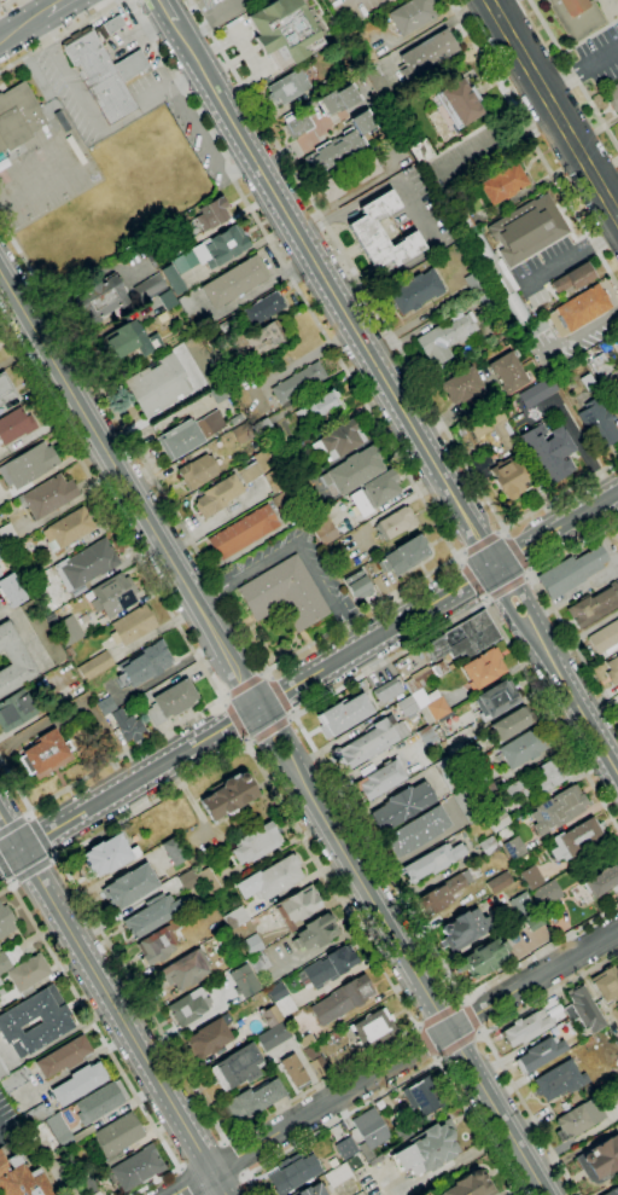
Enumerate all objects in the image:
road: (8, 5)
road: (56, 6)
road: (167, 10)
building: (410, 14)
building: (576, 17)
building: (112, 24)
road: (22, 25)
road: (2, 31)
building: (284, 31)
road: (57, 35)
road: (185, 40)
road: (216, 41)
flagpole: (139, 50)
building: (360, 51)
road: (247, 54)
building: (426, 54)
parking lot: (601, 56)
road: (180, 68)
road: (581, 71)
building: (104, 72)
road: (573, 74)
road: (208, 79)
building: (377, 80)
building: (287, 87)
building: (613, 97)
building: (339, 99)
building: (460, 103)
road: (553, 108)
road: (91, 115)
building: (18, 116)
building: (297, 124)
road: (303, 141)
road: (200, 143)
road: (532, 143)
building: (339, 145)
building: (421, 151)
park: (46, 175)
building: (349, 178)
building: (503, 184)
park: (18, 195)
road: (349, 195)
building: (211, 214)
building: (463, 220)
building: (362, 227)
building: (526, 228)
building: (480, 248)
building: (214, 250)
road: (570, 257)
building: (488, 262)
building: (570, 278)
building: (171, 279)
building: (476, 280)
building: (234, 282)
road: (263, 283)
building: (148, 286)
building: (415, 291)
building: (101, 298)
building: (488, 300)
building: (162, 302)
building: (264, 308)
building: (517, 309)
building: (578, 309)
building: (191, 311)
building: (132, 341)
building: (256, 341)
building: (445, 341)
building: (617, 349)
road: (407, 361)
building: (507, 372)
building: (605, 375)
building: (298, 382)
building: (157, 385)
building: (462, 385)
building: (6, 389)
building: (535, 391)
building: (218, 394)
building: (321, 407)
building: (616, 407)
building: (14, 424)
building: (597, 424)
building: (262, 429)
building: (494, 429)
building: (241, 433)
building: (190, 435)
road: (420, 436)
building: (338, 441)
building: (548, 452)
building: (287, 456)
building: (28, 464)
building: (482, 464)
building: (198, 471)
building: (352, 471)
building: (261, 472)
building: (508, 478)
road: (128, 489)
building: (298, 491)
building: (373, 493)
building: (48, 495)
building: (217, 495)
building: (281, 500)
building: (396, 523)
building: (69, 527)
building: (322, 528)
road: (501, 530)
road: (506, 532)
building: (243, 533)
road: (479, 543)
road: (297, 545)
road: (518, 551)
road: (459, 552)
building: (2, 553)
building: (404, 556)
road: (457, 558)
building: (86, 563)
road: (530, 572)
building: (571, 572)
building: (0, 574)
road: (527, 576)
road: (471, 579)
road: (409, 581)
building: (358, 585)
road: (507, 587)
building: (11, 591)
building: (113, 594)
building: (285, 594)
road: (484, 598)
road: (488, 599)
road: (547, 604)
building: (594, 605)
building: (134, 625)
road: (25, 631)
building: (42, 631)
building: (68, 631)
road: (181, 632)
building: (605, 637)
building: (463, 638)
building: (13, 661)
building: (145, 662)
building: (94, 665)
building: (484, 668)
building: (612, 671)
road: (263, 672)
road: (269, 674)
building: (426, 675)
road: (308, 678)
road: (244, 684)
building: (386, 691)
road: (279, 694)
road: (225, 696)
building: (175, 698)
building: (496, 700)
road: (223, 701)
building: (105, 704)
building: (406, 706)
building: (430, 706)
building: (16, 709)
road: (292, 713)
building: (343, 714)
building: (410, 715)
road: (291, 718)
road: (234, 720)
building: (512, 723)
building: (128, 725)
road: (301, 726)
road: (270, 729)
building: (426, 736)
road: (245, 739)
road: (250, 741)
building: (369, 742)
road: (247, 746)
building: (524, 747)
building: (47, 753)
building: (447, 773)
building: (380, 778)
building: (537, 779)
building: (480, 785)
road: (185, 793)
building: (228, 795)
building: (485, 805)
building: (401, 806)
building: (466, 806)
building: (558, 810)
building: (495, 820)
road: (16, 822)
building: (416, 831)
road: (10, 833)
road: (43, 835)
building: (576, 839)
building: (256, 842)
building: (488, 845)
building: (512, 847)
building: (173, 851)
building: (107, 854)
building: (433, 860)
road: (35, 872)
road: (5, 877)
building: (531, 877)
building: (269, 878)
building: (187, 880)
building: (208, 880)
road: (40, 881)
building: (602, 881)
building: (499, 882)
building: (129, 886)
building: (443, 892)
building: (546, 894)
building: (520, 904)
building: (296, 905)
building: (152, 915)
building: (234, 918)
building: (5, 920)
building: (534, 921)
building: (465, 929)
building: (315, 932)
building: (513, 938)
road: (327, 942)
building: (251, 944)
building: (156, 945)
road: (401, 951)
building: (483, 958)
building: (4, 962)
building: (258, 962)
building: (328, 967)
building: (183, 969)
building: (29, 973)
building: (244, 981)
building: (0, 982)
building: (606, 984)
building: (281, 999)
building: (340, 1000)
road: (462, 1002)
building: (190, 1007)
building: (582, 1009)
building: (270, 1015)
road: (441, 1015)
road: (470, 1017)
building: (16, 1019)
road: (418, 1026)
building: (525, 1027)
building: (372, 1028)
road: (479, 1032)
building: (273, 1036)
building: (208, 1038)
building: (305, 1040)
road: (427, 1040)
building: (587, 1042)
road: (104, 1044)
road: (456, 1045)
road: (490, 1045)
road: (141, 1054)
building: (540, 1054)
building: (63, 1056)
road: (436, 1057)
building: (317, 1062)
road: (392, 1062)
building: (237, 1066)
building: (293, 1071)
road: (407, 1078)
building: (559, 1080)
building: (80, 1083)
building: (422, 1097)
building: (252, 1101)
building: (100, 1102)
building: (578, 1118)
building: (56, 1124)
building: (369, 1132)
building: (401, 1132)
building: (117, 1137)
building: (65, 1138)
building: (344, 1147)
building: (428, 1149)
building: (319, 1150)
road: (237, 1156)
building: (602, 1156)
building: (138, 1167)
building: (292, 1172)
building: (337, 1174)
building: (21, 1179)
road: (186, 1181)
road: (252, 1185)
building: (468, 1185)
building: (310, 1190)
building: (612, 1191)

